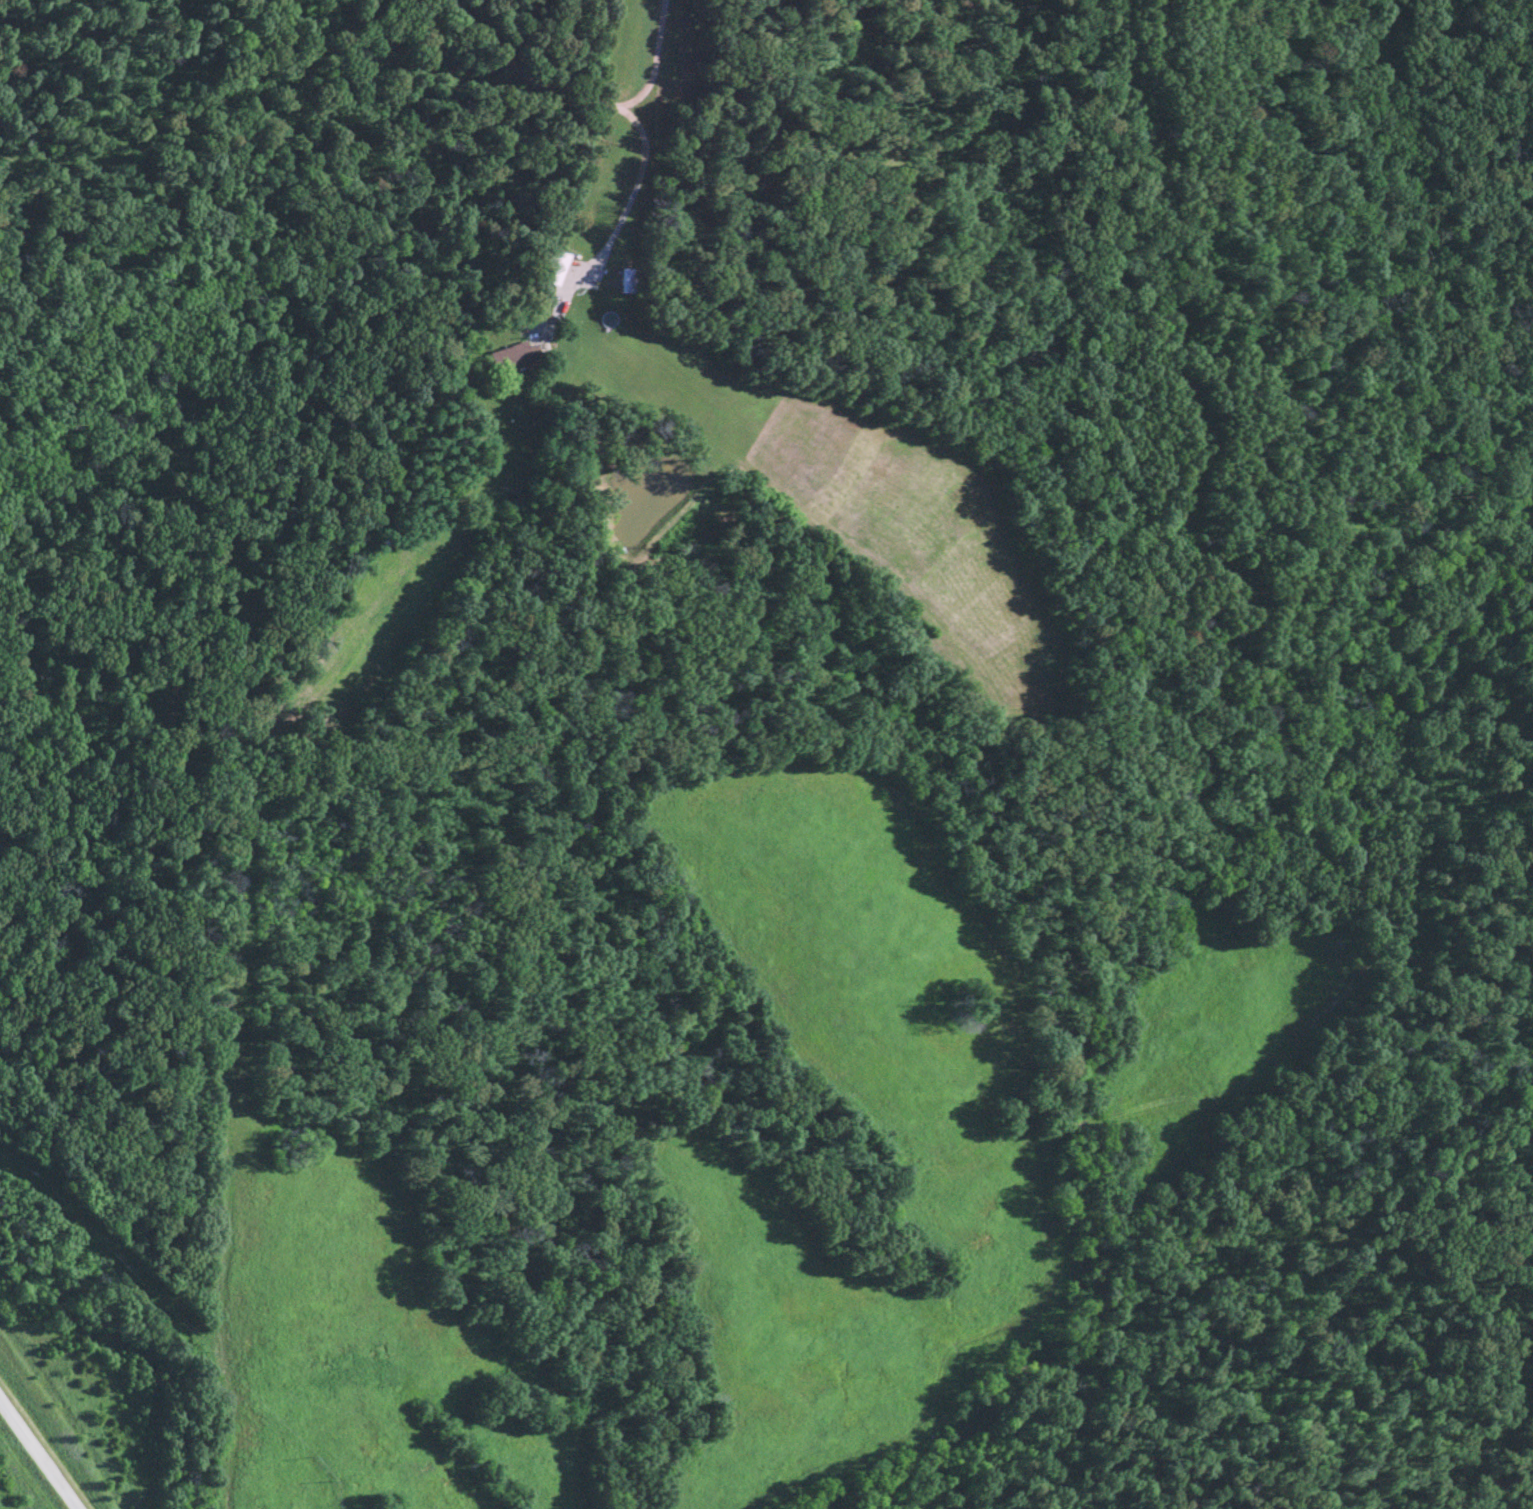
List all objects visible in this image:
road: (573, 101)
road: (624, 178)
building: (552, 266)
building: (627, 280)
building: (511, 357)
road: (38, 1453)

